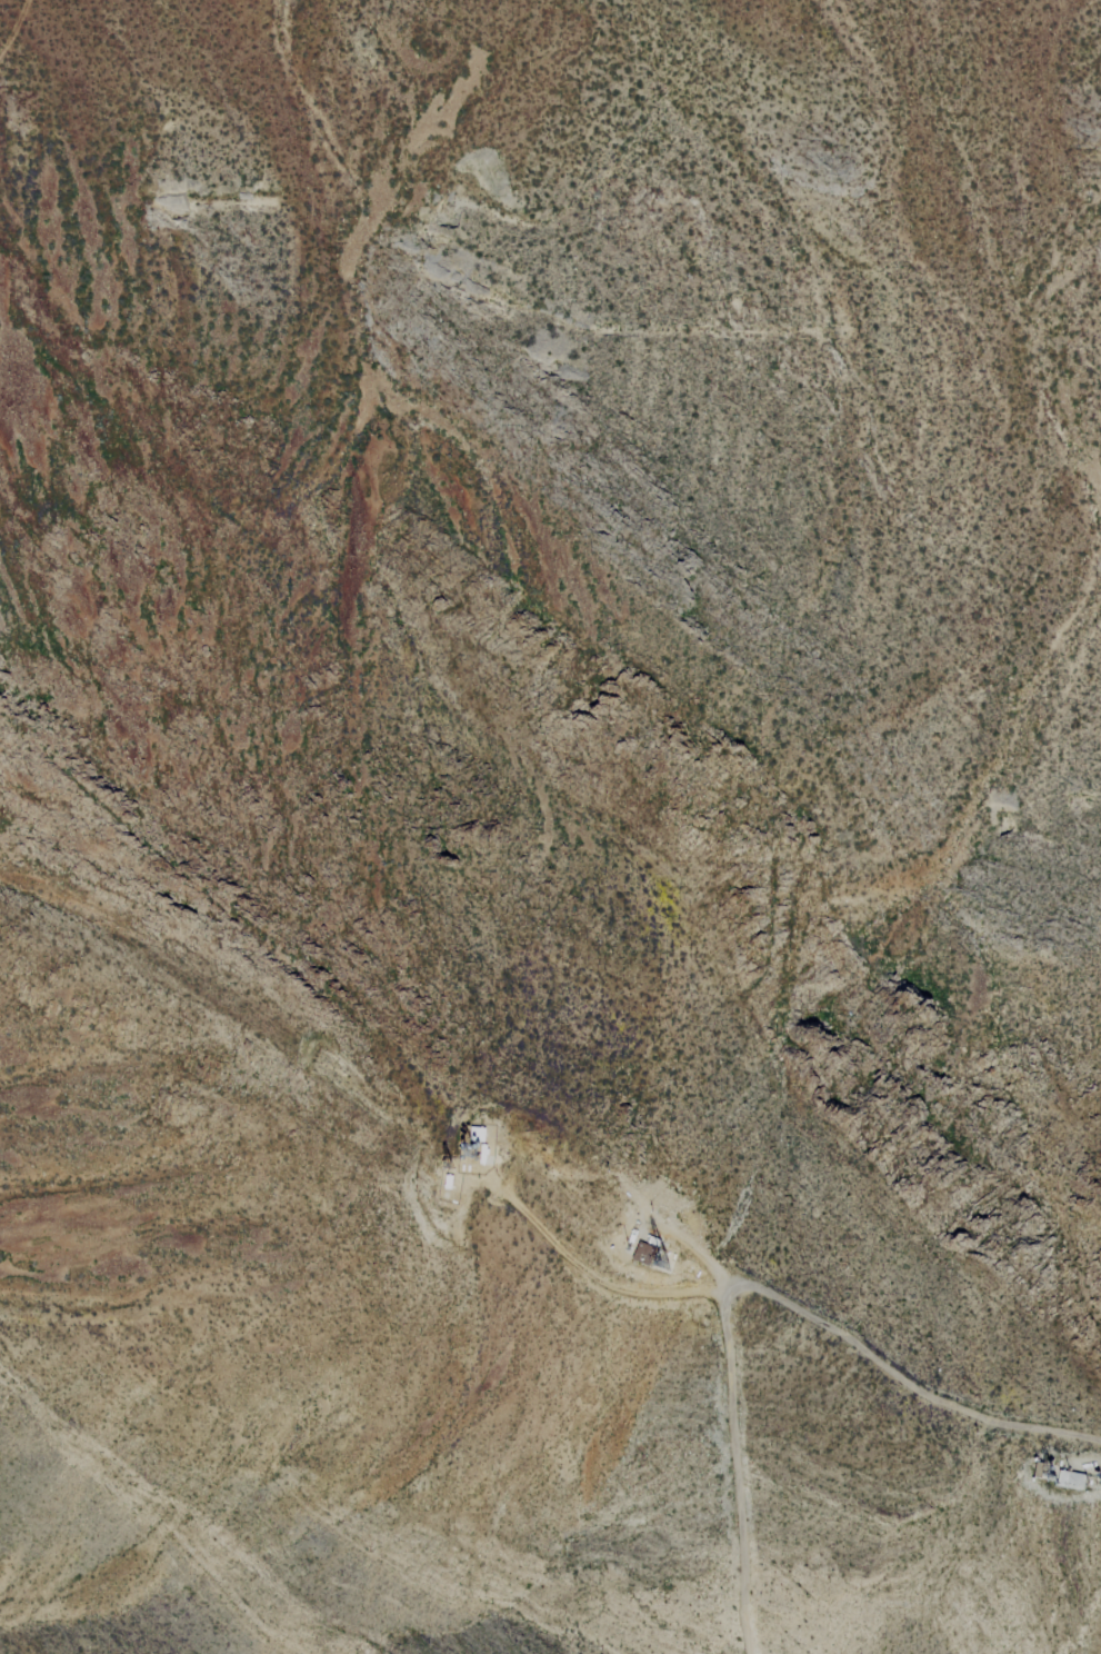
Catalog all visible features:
road: (592, 1284)
road: (752, 1288)

